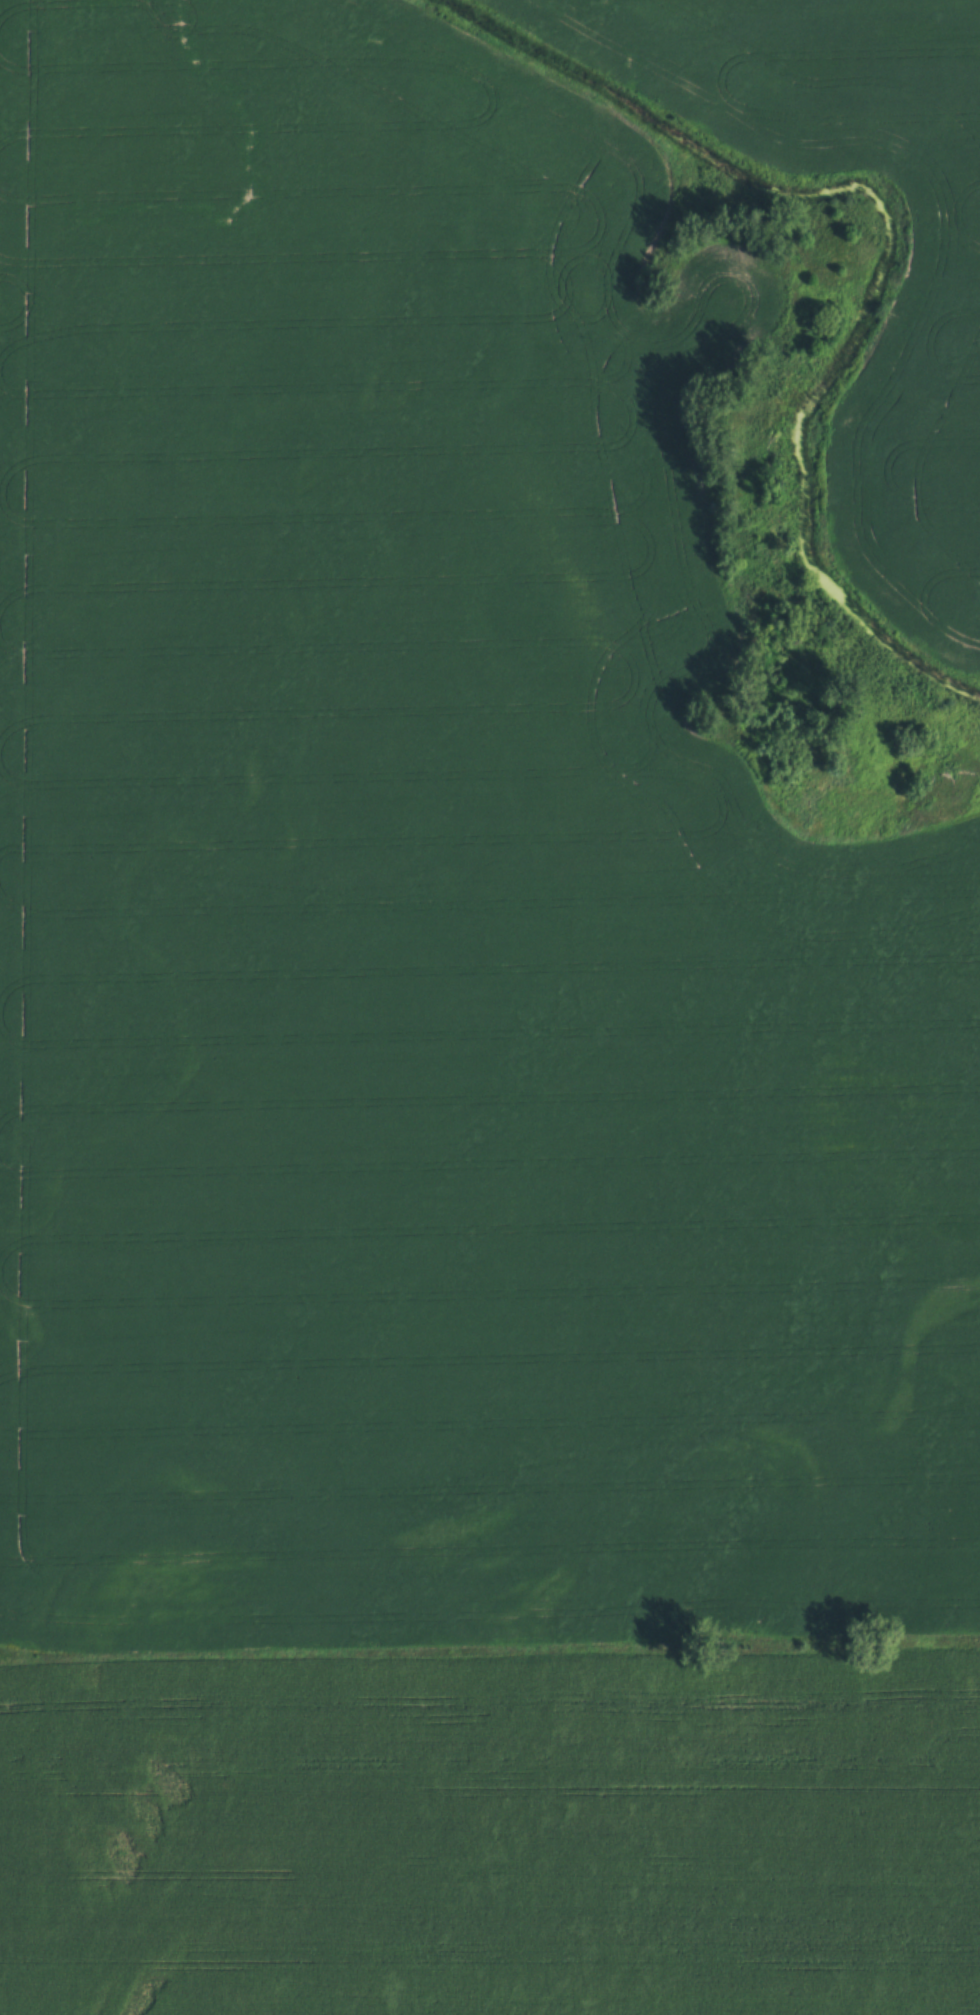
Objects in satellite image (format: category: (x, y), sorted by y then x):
river: (789, 556)

